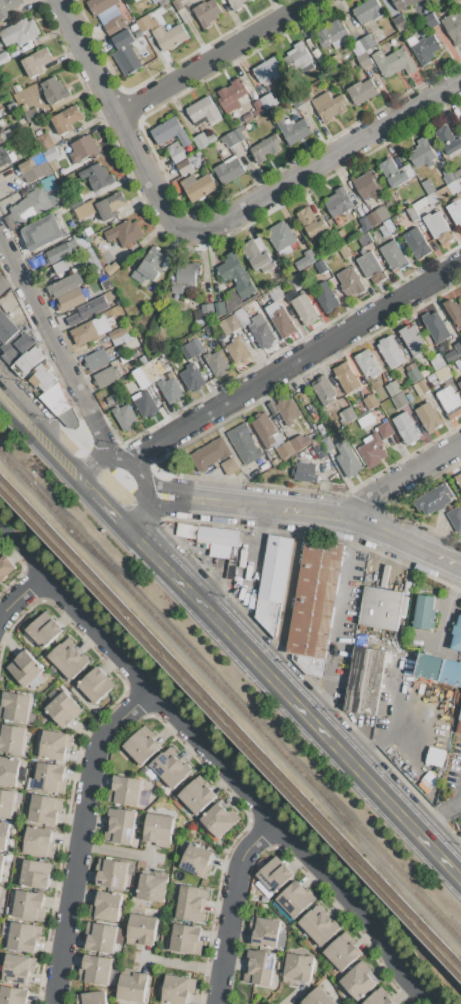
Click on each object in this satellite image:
building: (136, 0)
building: (162, 3)
building: (236, 3)
building: (403, 3)
building: (177, 5)
building: (8, 7)
building: (104, 9)
building: (367, 10)
building: (206, 13)
building: (431, 20)
building: (400, 22)
building: (114, 24)
building: (144, 24)
building: (453, 27)
building: (20, 32)
building: (331, 33)
building: (171, 36)
building: (367, 41)
building: (357, 47)
building: (423, 47)
building: (124, 51)
building: (3, 57)
road: (214, 57)
building: (299, 58)
building: (337, 59)
building: (363, 60)
building: (37, 61)
building: (393, 62)
building: (325, 66)
building: (267, 69)
building: (16, 88)
building: (54, 90)
building: (362, 91)
building: (233, 96)
building: (268, 101)
building: (328, 106)
building: (258, 107)
building: (203, 111)
building: (31, 114)
building: (0, 115)
building: (247, 117)
building: (66, 119)
road: (120, 121)
building: (291, 129)
building: (170, 131)
building: (239, 132)
building: (6, 135)
building: (229, 139)
building: (448, 139)
building: (204, 140)
building: (46, 141)
building: (266, 147)
building: (85, 148)
building: (175, 152)
building: (52, 153)
building: (422, 153)
building: (5, 156)
road: (327, 159)
building: (184, 167)
building: (35, 170)
building: (229, 170)
building: (393, 173)
building: (98, 177)
building: (366, 185)
building: (428, 186)
building: (201, 187)
building: (443, 192)
building: (58, 198)
building: (432, 198)
building: (340, 201)
building: (419, 203)
building: (31, 205)
building: (111, 205)
building: (455, 211)
building: (411, 212)
building: (382, 213)
building: (373, 218)
building: (311, 221)
building: (365, 224)
building: (435, 224)
building: (389, 226)
building: (42, 232)
building: (125, 232)
building: (282, 239)
building: (364, 239)
building: (416, 244)
building: (345, 252)
building: (58, 253)
building: (257, 254)
building: (394, 255)
building: (305, 260)
building: (148, 266)
building: (321, 266)
building: (60, 267)
building: (371, 267)
building: (237, 275)
building: (186, 276)
road: (8, 279)
building: (298, 280)
building: (351, 282)
building: (65, 285)
building: (275, 294)
building: (326, 296)
building: (71, 300)
building: (303, 306)
building: (220, 308)
building: (88, 310)
building: (208, 311)
building: (453, 311)
building: (241, 317)
building: (282, 320)
building: (229, 325)
building: (435, 326)
building: (7, 328)
building: (90, 330)
building: (261, 331)
building: (122, 334)
building: (414, 340)
road: (54, 345)
building: (197, 345)
building: (17, 346)
building: (458, 347)
building: (237, 348)
building: (390, 351)
building: (187, 352)
building: (451, 356)
building: (97, 360)
road: (296, 360)
building: (437, 361)
building: (27, 362)
building: (217, 362)
building: (368, 363)
building: (445, 372)
building: (145, 374)
building: (414, 375)
building: (42, 377)
building: (105, 377)
building: (192, 377)
building: (347, 377)
building: (431, 377)
building: (460, 384)
building: (421, 387)
building: (393, 388)
building: (170, 390)
building: (325, 390)
building: (113, 398)
building: (449, 400)
building: (370, 401)
building: (400, 401)
building: (146, 404)
building: (61, 405)
road: (20, 408)
building: (287, 411)
building: (348, 415)
building: (428, 416)
building: (125, 417)
building: (366, 420)
building: (406, 428)
building: (385, 429)
building: (266, 431)
building: (300, 442)
building: (244, 444)
building: (372, 449)
building: (284, 450)
building: (320, 451)
road: (118, 454)
building: (209, 454)
road: (66, 457)
building: (347, 459)
road: (90, 460)
building: (262, 465)
building: (230, 466)
building: (305, 472)
road: (146, 474)
road: (404, 477)
building: (458, 479)
road: (100, 491)
road: (175, 497)
building: (434, 499)
road: (120, 512)
road: (146, 512)
road: (335, 515)
building: (455, 518)
building: (217, 536)
building: (0, 549)
road: (23, 552)
building: (5, 567)
road: (172, 569)
building: (273, 582)
road: (288, 592)
building: (315, 596)
road: (23, 599)
road: (340, 608)
building: (381, 608)
building: (425, 611)
building: (43, 630)
building: (457, 635)
building: (68, 660)
building: (311, 666)
building: (430, 666)
building: (24, 668)
building: (451, 672)
building: (365, 680)
building: (96, 685)
railway: (230, 694)
building: (15, 706)
building: (63, 709)
road: (322, 712)
railway: (230, 717)
building: (459, 724)
railway: (230, 730)
road: (381, 737)
building: (12, 739)
road: (337, 743)
building: (55, 744)
building: (142, 745)
building: (435, 756)
building: (170, 768)
building: (9, 771)
building: (50, 778)
road: (243, 786)
building: (125, 790)
building: (197, 794)
building: (7, 802)
building: (45, 809)
road: (439, 812)
building: (219, 819)
building: (119, 825)
building: (158, 829)
building: (3, 834)
road: (84, 836)
building: (39, 841)
road: (119, 851)
building: (196, 861)
building: (1, 863)
building: (111, 873)
building: (36, 874)
building: (274, 875)
building: (152, 887)
building: (294, 900)
building: (190, 903)
building: (29, 905)
building: (108, 905)
road: (236, 907)
building: (319, 927)
building: (142, 930)
building: (264, 932)
building: (24, 937)
building: (101, 937)
building: (186, 939)
building: (343, 954)
building: (259, 967)
building: (16, 968)
building: (95, 969)
building: (298, 969)
building: (359, 981)
building: (132, 985)
building: (176, 989)
building: (13, 995)
building: (379, 997)
building: (92, 998)
building: (318, 998)

